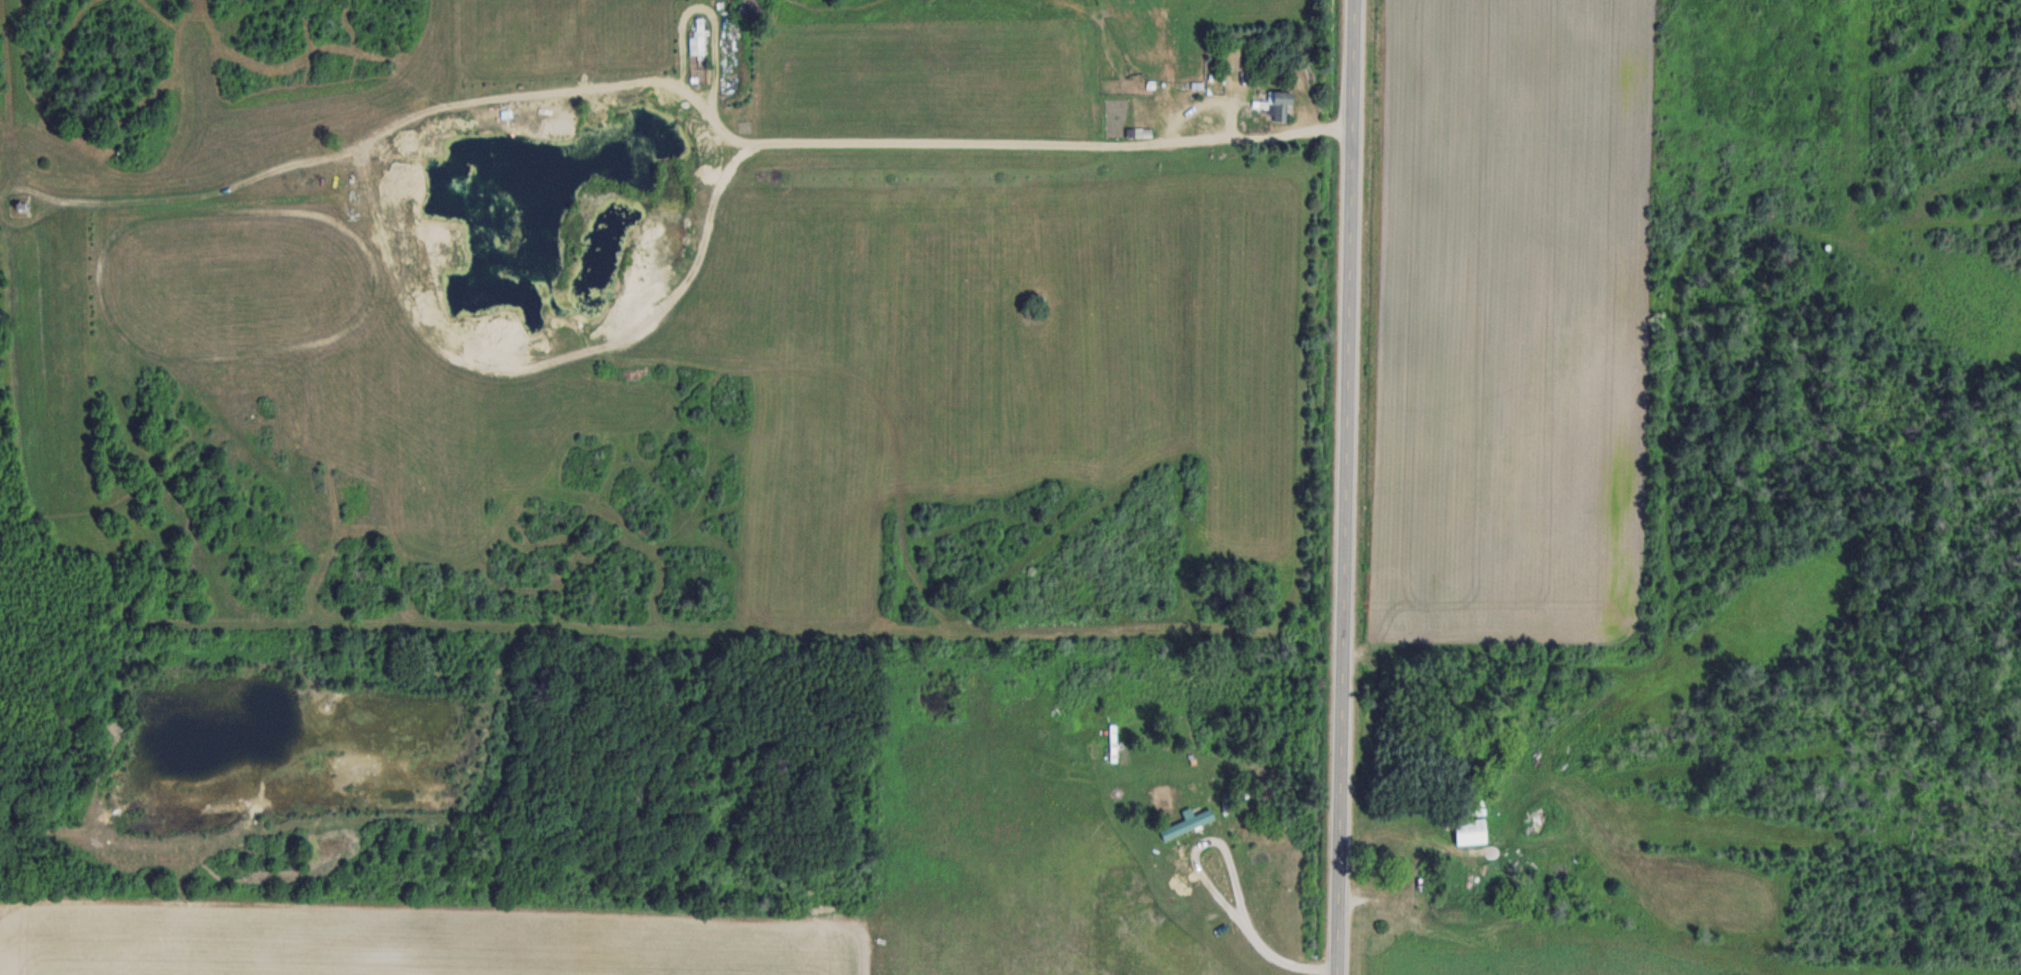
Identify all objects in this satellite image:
building: (701, 35)
building: (1133, 69)
building: (1280, 105)
building: (1208, 120)
road: (1345, 487)
building: (1472, 818)
road: (1233, 881)

